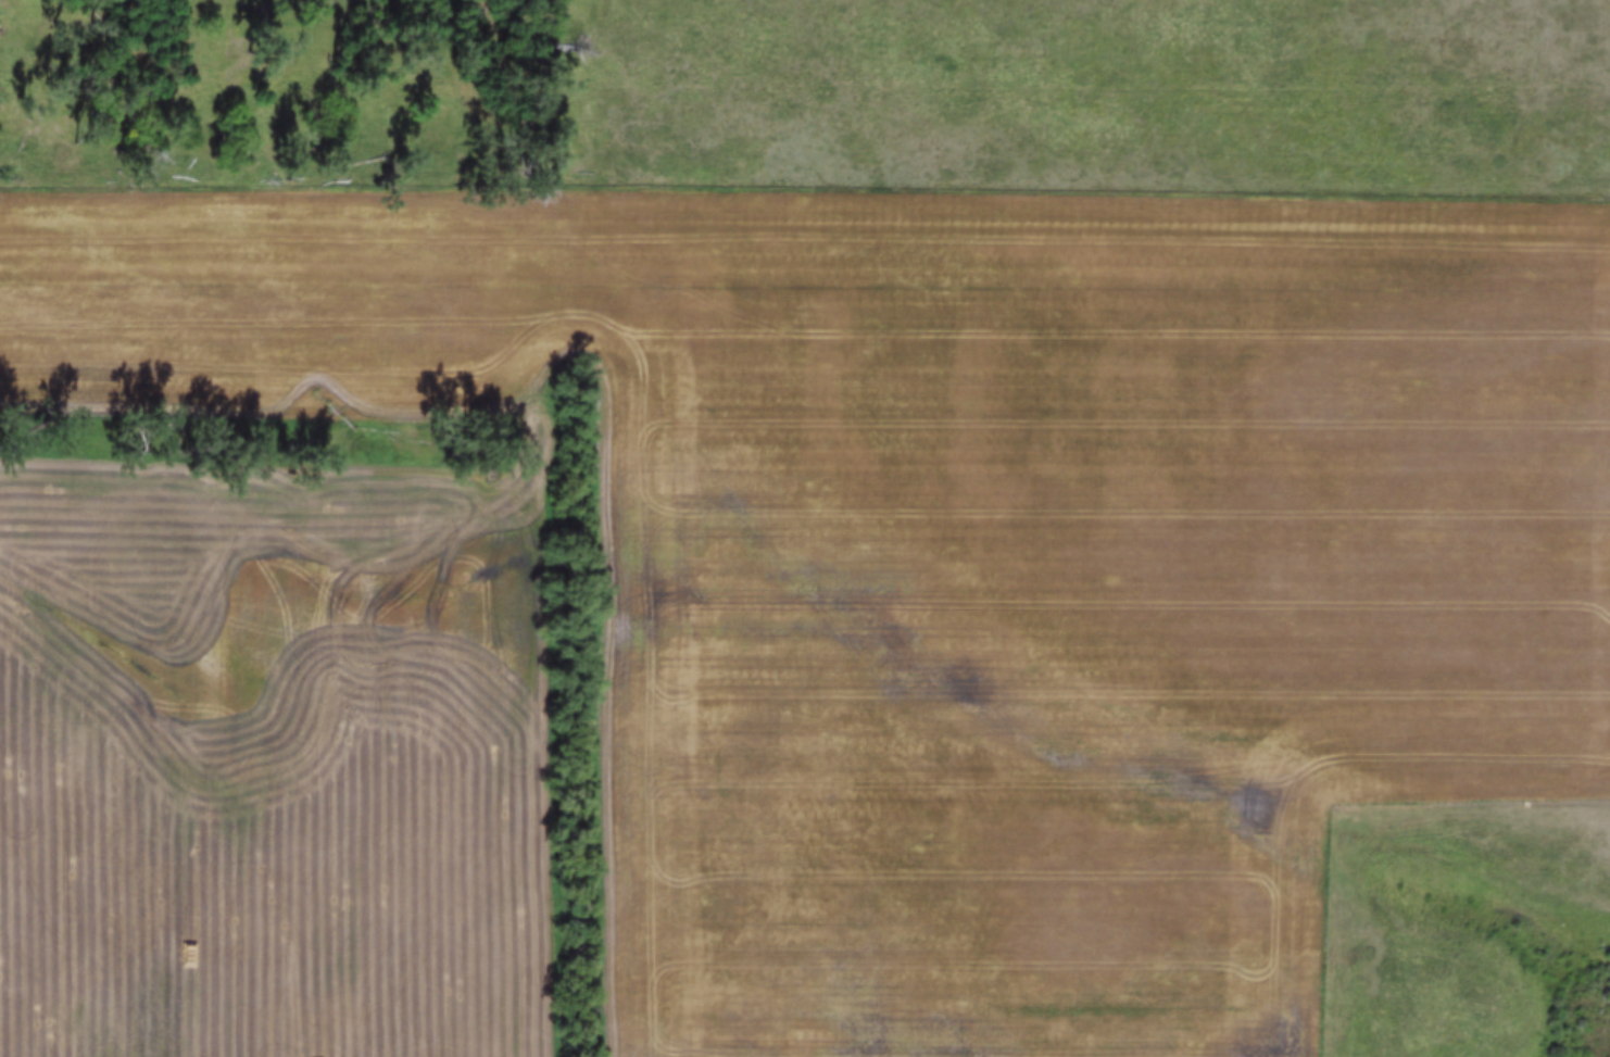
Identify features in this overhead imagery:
road: (566, 374)

